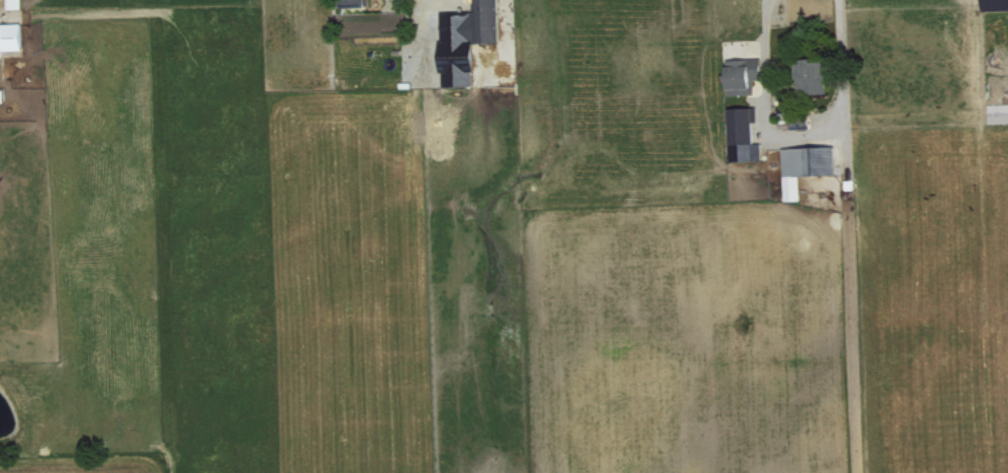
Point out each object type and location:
building: (353, 0)
building: (13, 3)
building: (10, 36)
building: (465, 40)
building: (743, 74)
building: (813, 74)
building: (2, 95)
building: (744, 133)
road: (803, 133)
building: (806, 165)

